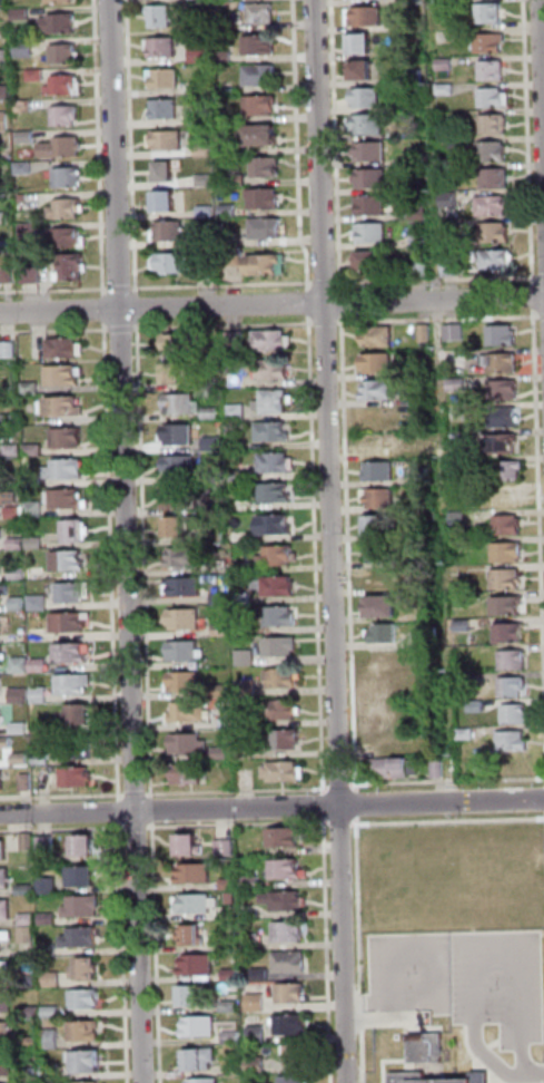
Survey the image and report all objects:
building: (61, 0)
building: (200, 0)
building: (414, 0)
building: (444, 0)
building: (263, 12)
building: (23, 13)
building: (492, 13)
building: (162, 16)
building: (366, 17)
building: (62, 23)
building: (408, 23)
building: (226, 25)
building: (6, 33)
building: (363, 42)
building: (493, 42)
road: (542, 45)
building: (259, 46)
building: (27, 48)
building: (165, 48)
building: (67, 53)
building: (199, 53)
building: (226, 56)
building: (6, 57)
building: (447, 65)
building: (364, 69)
building: (494, 70)
building: (39, 75)
building: (261, 75)
building: (165, 78)
building: (68, 86)
building: (201, 88)
building: (448, 88)
building: (6, 92)
building: (368, 97)
building: (495, 97)
building: (261, 105)
building: (28, 106)
building: (167, 109)
building: (69, 116)
building: (200, 118)
building: (4, 120)
building: (370, 124)
building: (497, 125)
building: (263, 135)
building: (29, 137)
building: (168, 140)
road: (530, 143)
road: (299, 146)
road: (337, 146)
building: (66, 147)
building: (229, 147)
building: (452, 147)
road: (133, 148)
road: (101, 149)
building: (206, 150)
building: (373, 150)
building: (494, 150)
building: (417, 158)
building: (267, 166)
building: (27, 167)
building: (166, 170)
building: (453, 174)
building: (71, 177)
building: (374, 178)
building: (497, 178)
building: (238, 179)
building: (207, 180)
building: (26, 198)
building: (266, 198)
building: (452, 199)
building: (166, 201)
building: (373, 205)
building: (494, 205)
building: (69, 208)
building: (229, 211)
building: (419, 211)
building: (208, 212)
building: (7, 217)
building: (453, 227)
building: (267, 228)
building: (170, 231)
building: (31, 232)
building: (373, 232)
building: (497, 232)
building: (72, 238)
building: (207, 240)
building: (231, 240)
building: (421, 240)
building: (7, 247)
building: (235, 255)
building: (495, 258)
building: (369, 261)
building: (176, 263)
building: (268, 264)
building: (424, 266)
building: (453, 266)
building: (73, 267)
building: (212, 272)
building: (33, 275)
road: (543, 276)
road: (439, 279)
road: (326, 283)
road: (225, 285)
road: (123, 289)
road: (55, 290)
road: (535, 297)
road: (310, 303)
road: (343, 303)
road: (271, 304)
road: (139, 309)
road: (107, 311)
road: (543, 316)
road: (441, 320)
road: (328, 322)
road: (226, 325)
road: (122, 329)
road: (56, 330)
building: (456, 332)
building: (426, 333)
building: (378, 335)
building: (504, 335)
building: (237, 339)
building: (274, 341)
building: (185, 343)
building: (66, 348)
building: (11, 350)
building: (378, 362)
building: (505, 363)
building: (275, 370)
building: (176, 372)
building: (66, 374)
building: (238, 380)
building: (214, 382)
building: (458, 384)
building: (419, 387)
building: (34, 389)
building: (387, 389)
building: (19, 390)
building: (506, 390)
building: (276, 401)
building: (184, 404)
building: (67, 407)
building: (239, 411)
building: (212, 413)
building: (507, 417)
building: (12, 419)
building: (275, 432)
building: (180, 435)
building: (69, 439)
building: (215, 443)
road: (540, 443)
building: (239, 445)
building: (379, 445)
building: (505, 445)
building: (16, 450)
building: (36, 450)
building: (277, 462)
building: (181, 465)
building: (466, 465)
building: (67, 469)
building: (382, 471)
building: (510, 471)
building: (1, 472)
building: (216, 475)
building: (240, 475)
building: (424, 476)
building: (37, 481)
building: (16, 482)
building: (461, 489)
building: (277, 492)
building: (12, 498)
building: (177, 498)
building: (380, 498)
building: (2, 499)
building: (68, 499)
building: (506, 499)
building: (218, 504)
building: (36, 509)
building: (17, 513)
building: (462, 518)
building: (277, 525)
building: (382, 525)
building: (510, 525)
building: (177, 527)
building: (77, 531)
building: (217, 533)
building: (2, 535)
road: (130, 540)
road: (334, 541)
building: (37, 543)
building: (19, 545)
road: (350, 553)
building: (385, 553)
building: (510, 553)
road: (318, 554)
building: (279, 556)
building: (186, 557)
road: (147, 559)
building: (70, 562)
road: (113, 563)
building: (1, 565)
building: (243, 567)
building: (20, 574)
building: (39, 574)
building: (378, 578)
building: (508, 579)
building: (278, 586)
building: (187, 587)
building: (76, 592)
building: (3, 593)
building: (222, 598)
building: (244, 598)
building: (40, 603)
building: (21, 605)
building: (508, 606)
building: (385, 607)
building: (283, 616)
building: (188, 619)
building: (73, 623)
building: (1, 625)
building: (465, 625)
building: (246, 628)
building: (224, 630)
building: (27, 631)
building: (386, 634)
building: (511, 634)
building: (431, 635)
building: (281, 646)
building: (187, 651)
building: (72, 653)
building: (2, 656)
building: (247, 657)
building: (384, 658)
building: (515, 660)
building: (22, 665)
building: (40, 665)
building: (286, 677)
building: (186, 682)
building: (76, 684)
building: (0, 685)
building: (383, 685)
building: (514, 687)
building: (248, 689)
building: (222, 691)
building: (21, 695)
building: (42, 695)
building: (478, 708)
building: (284, 711)
building: (191, 713)
building: (82, 714)
building: (517, 714)
building: (1, 718)
building: (248, 722)
building: (22, 729)
building: (468, 734)
building: (288, 740)
building: (386, 740)
building: (514, 742)
building: (190, 744)
building: (6, 747)
building: (83, 748)
building: (248, 751)
building: (222, 754)
building: (21, 759)
building: (44, 760)
building: (397, 768)
building: (439, 770)
building: (285, 772)
building: (189, 774)
building: (78, 778)
building: (2, 781)
road: (448, 781)
building: (28, 783)
road: (342, 786)
road: (240, 791)
road: (138, 793)
road: (63, 796)
road: (358, 799)
road: (326, 806)
road: (271, 808)
road: (154, 810)
road: (122, 812)
road: (337, 821)
road: (239, 823)
road: (138, 827)
road: (63, 829)
building: (286, 838)
building: (29, 842)
building: (48, 845)
building: (86, 846)
building: (190, 846)
building: (228, 848)
building: (3, 850)
building: (288, 870)
building: (197, 874)
building: (83, 877)
building: (4, 878)
building: (254, 881)
building: (230, 884)
building: (49, 886)
building: (27, 890)
building: (233, 898)
building: (287, 901)
building: (200, 904)
building: (85, 906)
building: (6, 909)
building: (251, 913)
building: (30, 919)
building: (50, 919)
building: (291, 931)
building: (29, 935)
building: (194, 937)
building: (82, 938)
building: (6, 939)
road: (476, 939)
building: (255, 941)
building: (52, 950)
road: (330, 950)
road: (127, 952)
road: (159, 953)
building: (293, 963)
building: (200, 965)
building: (4, 969)
building: (88, 970)
building: (261, 974)
building: (234, 975)
building: (55, 978)
parking lot: (465, 979)
building: (31, 980)
building: (294, 994)
building: (192, 997)
building: (87, 999)
building: (7, 1002)
building: (259, 1003)
building: (233, 1006)
building: (33, 1012)
building: (53, 1012)
building: (293, 1026)
building: (202, 1027)
building: (88, 1032)
building: (7, 1033)
building: (259, 1035)
building: (235, 1037)
building: (53, 1040)
building: (32, 1043)
building: (426, 1048)
building: (300, 1056)
building: (201, 1061)
building: (88, 1062)
building: (7, 1065)
building: (259, 1065)
building: (55, 1072)
road: (540, 1072)
building: (32, 1074)
building: (408, 1076)
building: (297, 1080)
building: (8, 1082)
building: (85, 1082)
building: (206, 1082)

